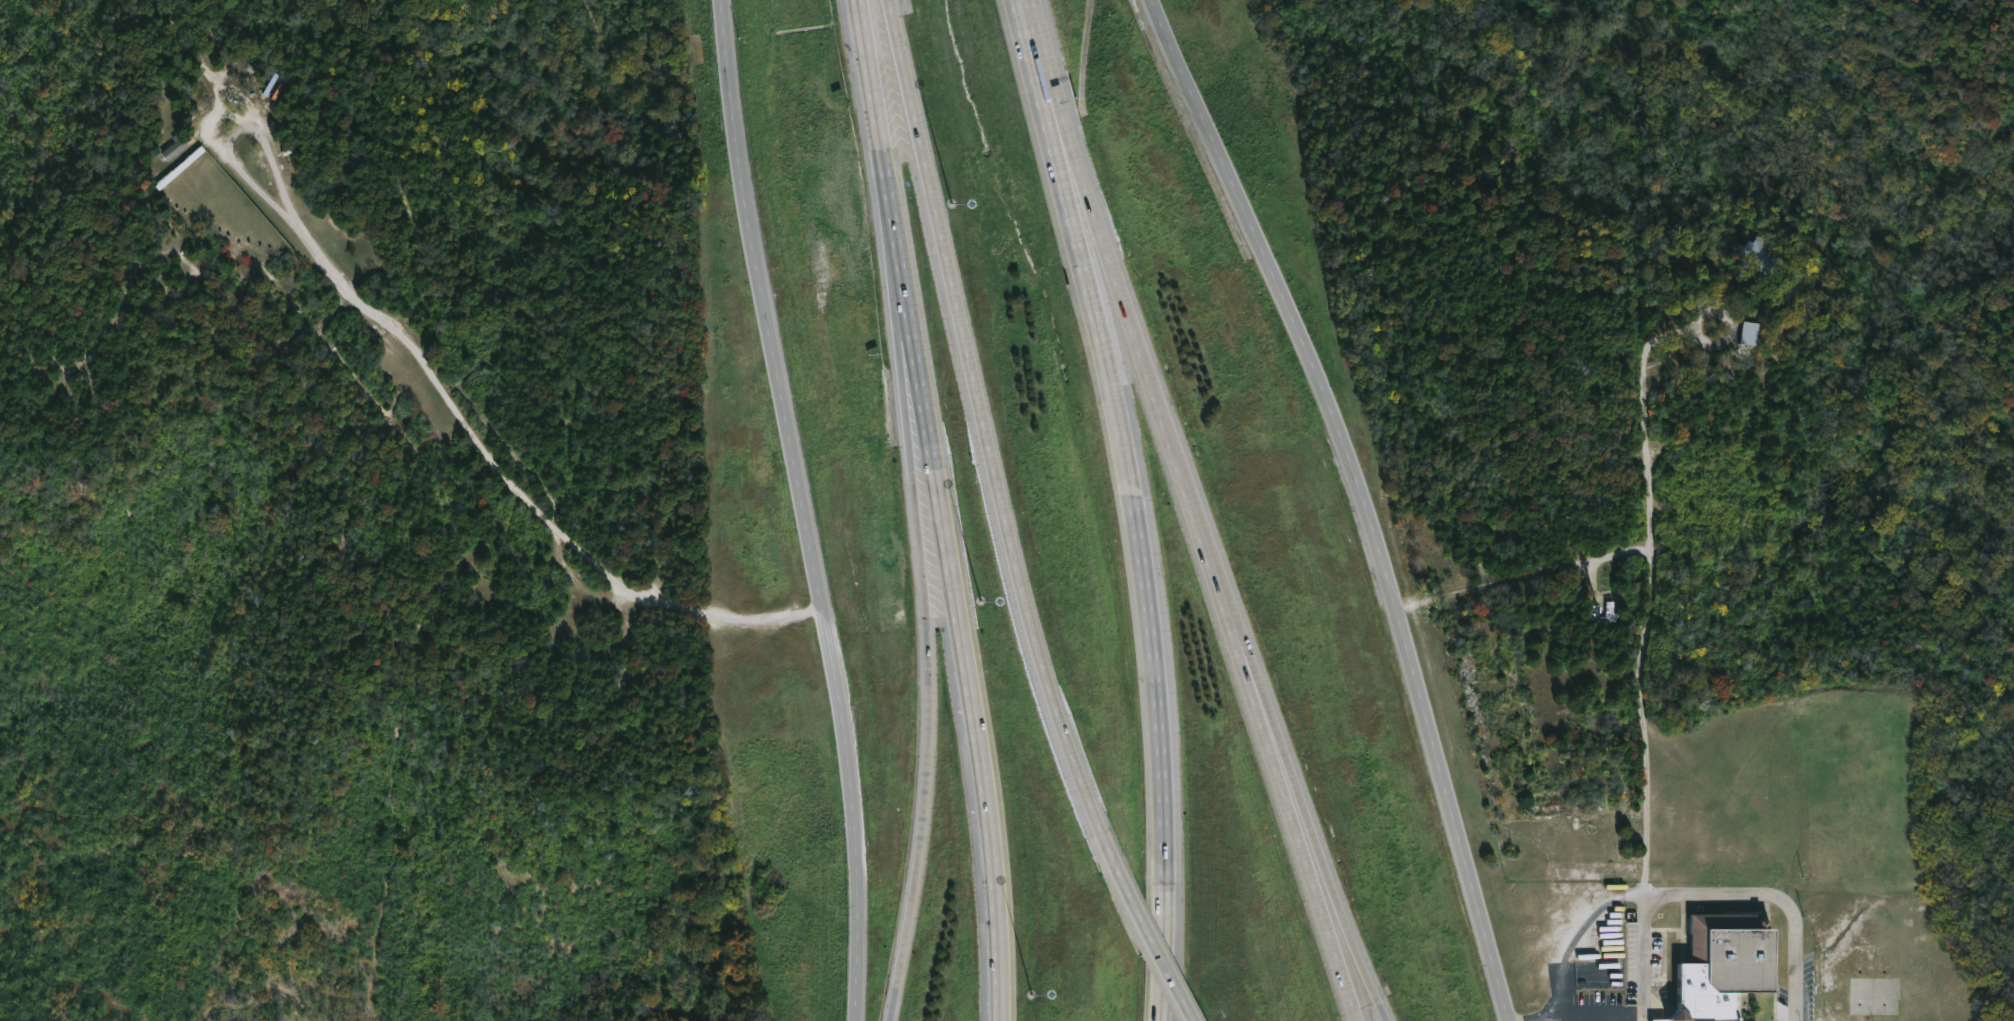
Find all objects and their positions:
road: (1032, 50)
building: (278, 87)
road: (1064, 141)
road: (1054, 144)
building: (176, 148)
road: (886, 168)
building: (1755, 255)
road: (1706, 312)
building: (1747, 334)
road: (438, 365)
road: (911, 383)
road: (1646, 422)
road: (987, 436)
road: (1365, 499)
road: (802, 509)
road: (1650, 595)
street lamp: (981, 599)
road: (1147, 600)
road: (1221, 600)
building: (1608, 611)
road: (969, 677)
road: (1257, 687)
road: (929, 726)
road: (1329, 875)
road: (1708, 891)
road: (1150, 944)
building: (1715, 966)
street lamp: (1032, 995)
road: (1602, 1012)
road: (1643, 1016)
road: (1563, 1017)
road: (1577, 1017)

